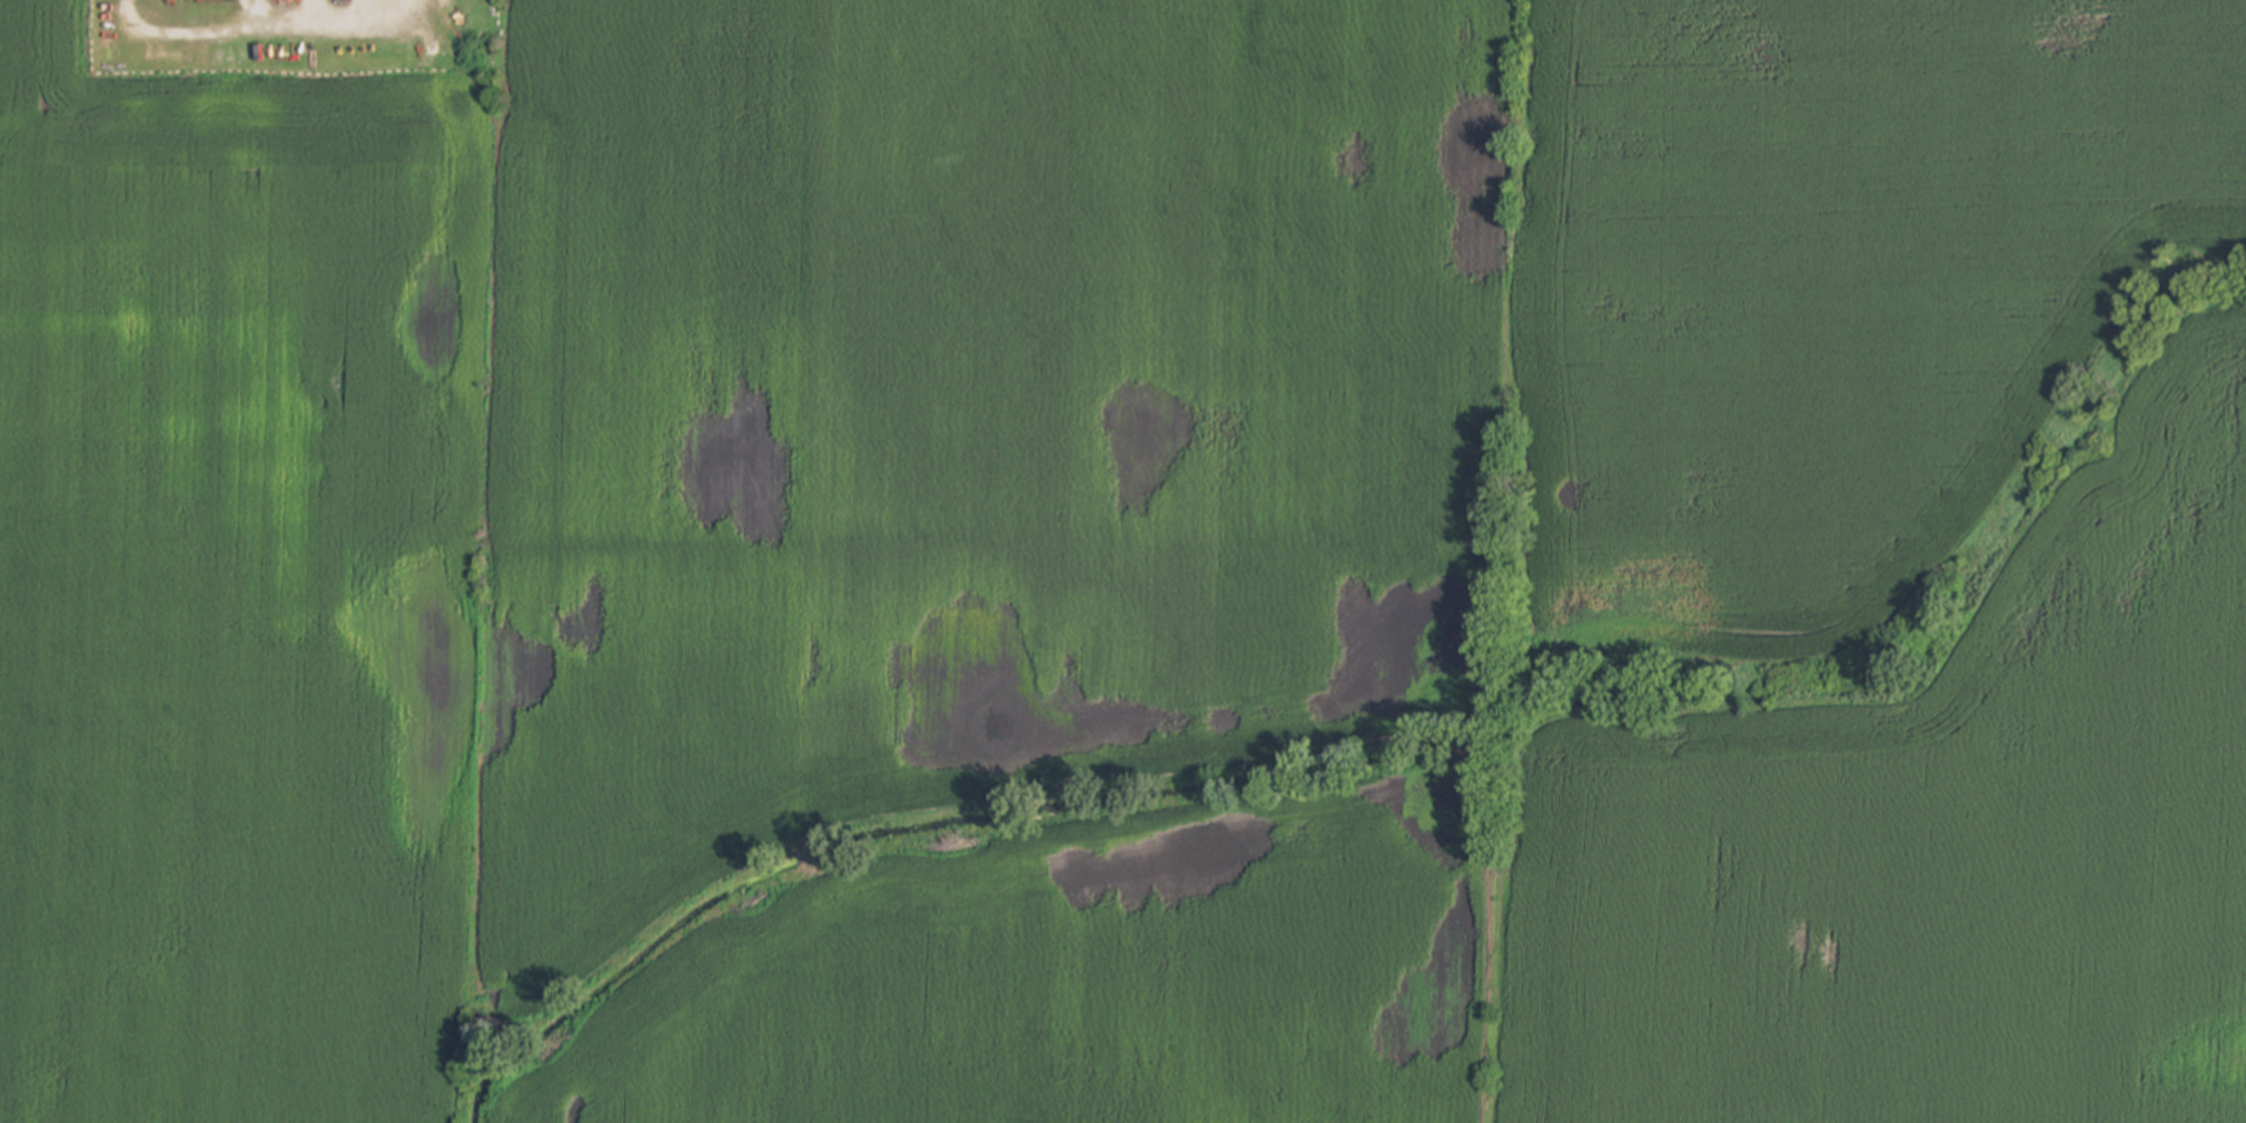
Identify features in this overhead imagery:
building: (237, 51)

